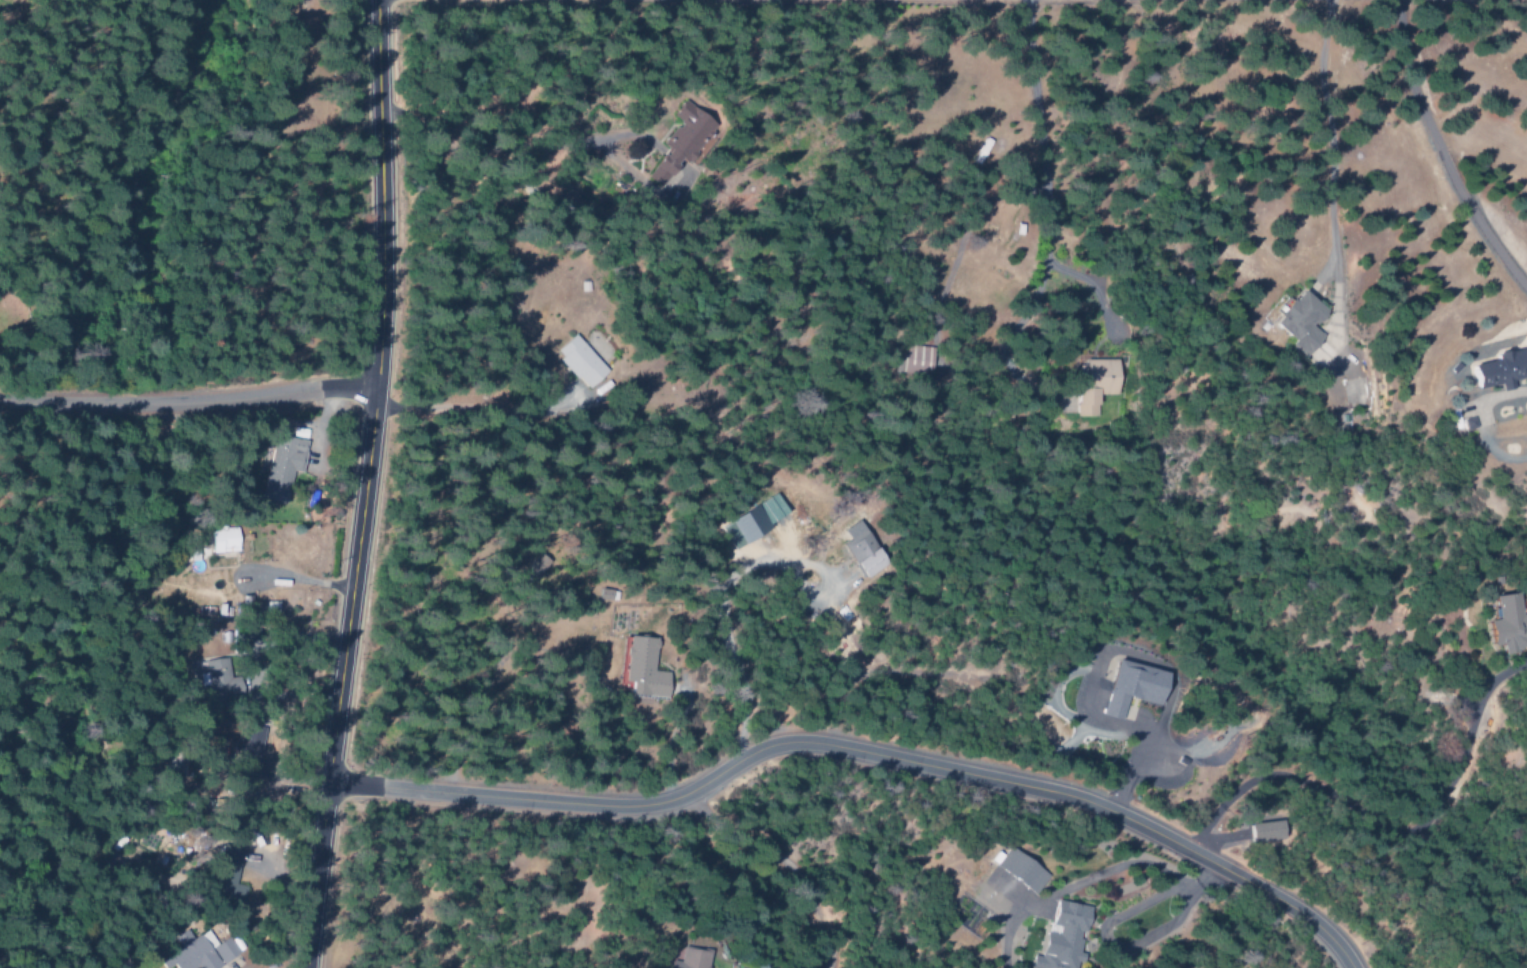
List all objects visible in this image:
building: (678, 141)
building: (1296, 322)
building: (912, 359)
building: (576, 362)
building: (1496, 370)
building: (1090, 385)
road: (188, 405)
building: (279, 467)
road: (366, 485)
building: (753, 519)
building: (221, 540)
building: (859, 549)
building: (530, 571)
building: (603, 595)
building: (1505, 626)
building: (640, 670)
building: (1127, 688)
building: (249, 750)
road: (858, 751)
building: (1261, 832)
building: (1017, 871)
building: (224, 875)
building: (1059, 937)
building: (191, 952)
building: (686, 959)

